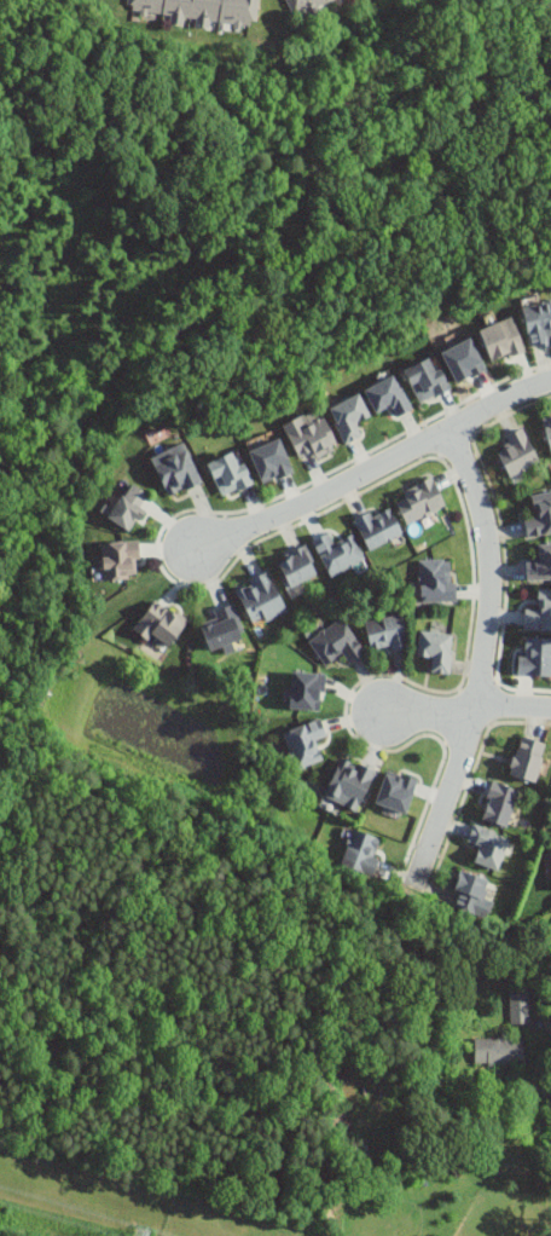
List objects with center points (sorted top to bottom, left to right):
building: (303, 5)
building: (202, 10)
building: (538, 323)
building: (501, 339)
building: (460, 359)
building: (425, 380)
building: (387, 397)
building: (348, 417)
building: (549, 428)
building: (309, 434)
building: (518, 454)
building: (267, 460)
road: (372, 466)
building: (175, 470)
building: (228, 474)
building: (420, 501)
building: (129, 508)
building: (540, 516)
building: (378, 529)
building: (338, 554)
building: (120, 561)
building: (540, 565)
building: (297, 568)
building: (436, 582)
building: (261, 600)
building: (540, 614)
building: (162, 625)
building: (224, 630)
building: (387, 635)
building: (337, 643)
building: (434, 646)
building: (535, 658)
road: (481, 659)
building: (306, 691)
road: (465, 707)
building: (304, 744)
building: (528, 759)
building: (349, 785)
building: (395, 789)
building: (500, 804)
building: (488, 848)
building: (361, 853)
building: (470, 894)
building: (520, 1006)
building: (499, 1052)
power tower: (140, 1235)

